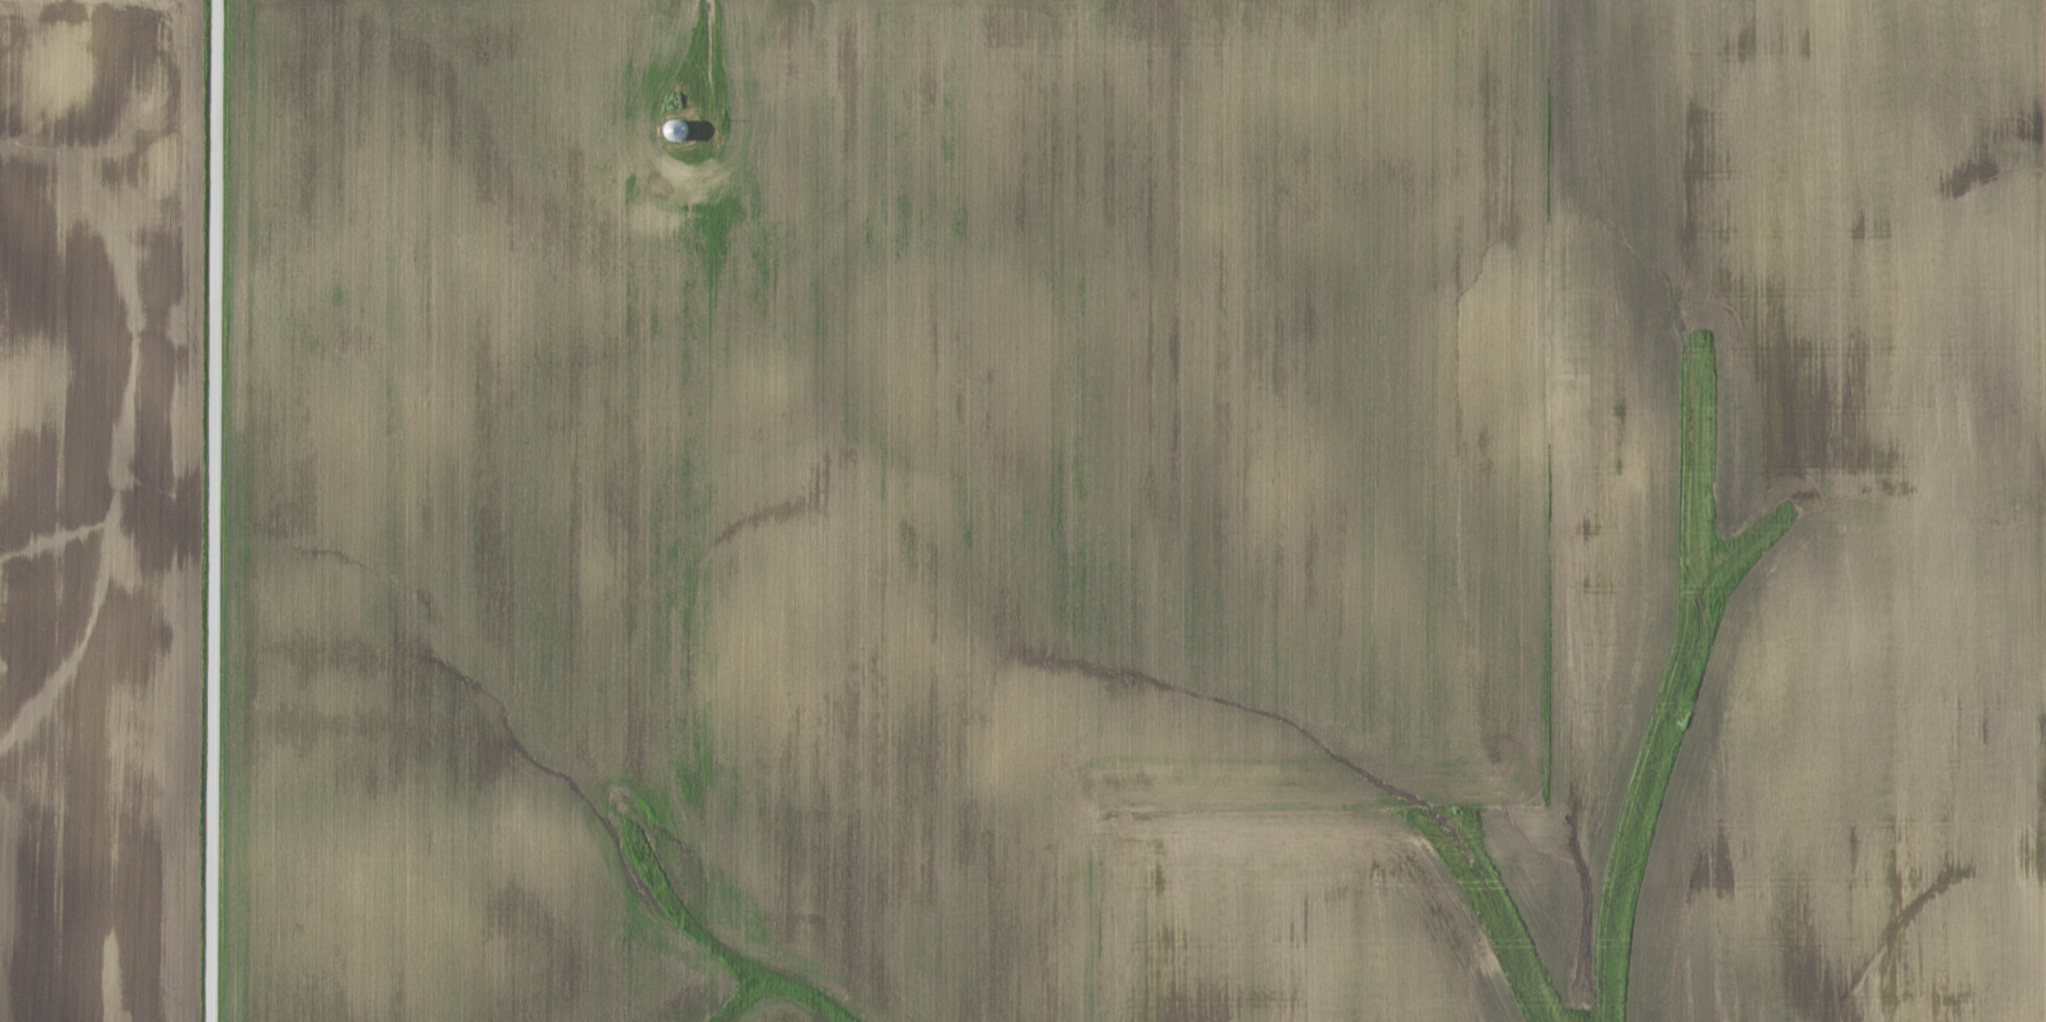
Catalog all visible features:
road: (223, 511)

